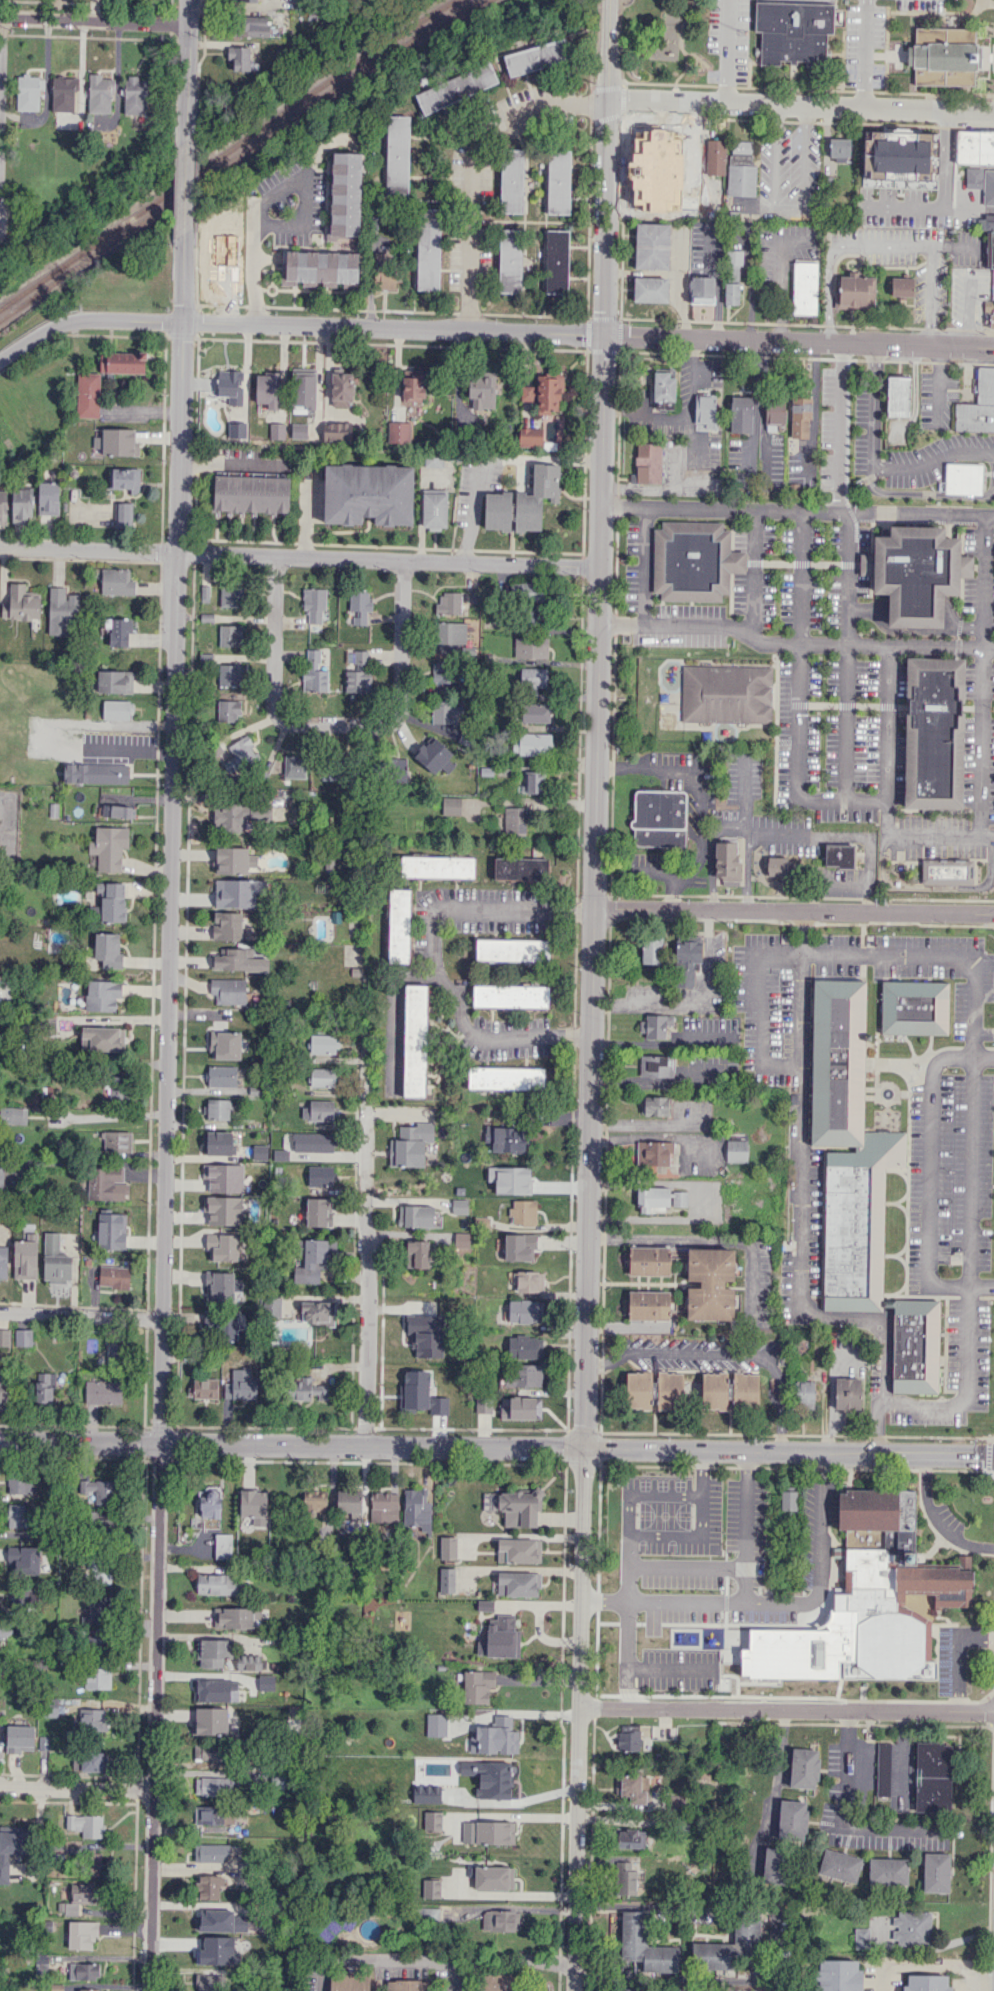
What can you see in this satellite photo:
building: (245, 0)
parking lot: (801, 1)
road: (990, 2)
parking lot: (927, 5)
road: (96, 25)
building: (250, 26)
building: (794, 31)
building: (669, 37)
road: (680, 41)
parking lot: (728, 41)
park: (663, 43)
parking lot: (864, 43)
road: (727, 51)
road: (865, 53)
building: (944, 55)
road: (981, 56)
road: (984, 56)
road: (993, 56)
building: (239, 57)
building: (537, 57)
road: (621, 66)
road: (190, 69)
building: (456, 88)
road: (833, 89)
building: (28, 92)
building: (63, 93)
building: (99, 94)
building: (135, 95)
road: (801, 105)
road: (2, 108)
building: (678, 144)
building: (975, 146)
building: (840, 148)
railway: (225, 149)
railway: (235, 154)
building: (716, 156)
building: (397, 157)
building: (900, 158)
road: (914, 158)
road: (472, 159)
building: (646, 159)
road: (949, 159)
building: (741, 168)
parking lot: (789, 174)
road: (879, 174)
parking lot: (907, 174)
building: (559, 175)
building: (974, 177)
building: (511, 180)
building: (988, 186)
road: (271, 189)
road: (185, 190)
building: (345, 195)
road: (793, 205)
road: (930, 207)
building: (711, 208)
road: (971, 208)
building: (986, 222)
road: (882, 242)
building: (652, 245)
building: (428, 248)
building: (990, 249)
building: (510, 259)
parking lot: (782, 259)
parking lot: (901, 259)
building: (556, 261)
building: (318, 268)
building: (383, 272)
road: (780, 274)
road: (717, 281)
building: (732, 283)
building: (993, 284)
building: (804, 286)
building: (902, 286)
building: (650, 289)
building: (702, 289)
building: (855, 291)
parking lot: (970, 295)
road: (134, 320)
building: (992, 321)
road: (39, 330)
road: (588, 335)
road: (735, 354)
building: (122, 362)
building: (413, 385)
building: (985, 385)
building: (230, 386)
building: (664, 386)
building: (268, 389)
building: (341, 389)
building: (304, 390)
building: (481, 390)
building: (526, 392)
building: (548, 393)
building: (87, 394)
building: (898, 396)
parking lot: (937, 399)
building: (663, 404)
road: (816, 409)
building: (836, 409)
building: (705, 412)
building: (774, 412)
building: (740, 414)
building: (800, 416)
building: (974, 417)
parking lot: (867, 421)
building: (237, 430)
building: (276, 430)
building: (299, 430)
building: (337, 431)
road: (836, 431)
building: (398, 432)
building: (530, 437)
building: (116, 442)
building: (433, 461)
road: (490, 462)
building: (648, 463)
road: (873, 466)
building: (963, 478)
building: (124, 479)
building: (252, 493)
building: (368, 494)
road: (941, 494)
building: (537, 496)
building: (48, 498)
building: (22, 505)
road: (617, 506)
building: (3, 507)
road: (797, 509)
building: (434, 510)
building: (498, 510)
building: (123, 514)
road: (299, 557)
building: (694, 560)
road: (644, 564)
road: (751, 571)
building: (918, 571)
road: (799, 576)
road: (848, 577)
parking lot: (979, 578)
building: (116, 582)
building: (527, 591)
building: (230, 598)
building: (21, 603)
building: (449, 603)
building: (314, 604)
building: (360, 606)
building: (61, 610)
building: (532, 616)
building: (118, 631)
building: (230, 635)
building: (449, 635)
road: (793, 641)
building: (531, 647)
building: (441, 671)
building: (314, 672)
building: (359, 673)
building: (230, 674)
building: (533, 679)
building: (114, 681)
building: (727, 693)
building: (118, 709)
building: (228, 710)
building: (445, 711)
building: (535, 712)
road: (845, 721)
road: (334, 723)
road: (595, 724)
building: (934, 733)
road: (45, 734)
road: (886, 741)
road: (982, 743)
building: (532, 744)
parking lot: (874, 746)
building: (240, 756)
building: (434, 756)
road: (796, 761)
building: (294, 766)
building: (397, 769)
building: (97, 771)
building: (531, 782)
road: (702, 801)
building: (451, 805)
building: (117, 810)
building: (230, 816)
building: (659, 818)
building: (515, 820)
road: (729, 831)
road: (844, 836)
road: (938, 839)
building: (109, 847)
parking lot: (931, 848)
building: (839, 856)
building: (234, 860)
building: (726, 860)
building: (778, 866)
building: (437, 867)
building: (521, 868)
building: (947, 870)
road: (828, 884)
road: (936, 886)
building: (238, 892)
road: (615, 893)
building: (66, 895)
building: (112, 901)
road: (792, 911)
building: (227, 925)
building: (400, 925)
building: (108, 948)
building: (513, 949)
building: (651, 949)
road: (432, 956)
road: (826, 957)
building: (239, 961)
building: (686, 961)
building: (228, 990)
building: (102, 995)
building: (510, 996)
road: (692, 1002)
building: (915, 1006)
building: (655, 1025)
building: (102, 1039)
building: (415, 1040)
building: (646, 1042)
building: (323, 1044)
building: (225, 1045)
building: (656, 1065)
building: (221, 1075)
building: (321, 1077)
building: (507, 1078)
building: (654, 1106)
building: (217, 1109)
building: (318, 1110)
building: (13, 1115)
road: (164, 1115)
road: (108, 1116)
building: (505, 1139)
building: (115, 1141)
building: (217, 1143)
building: (410, 1144)
building: (313, 1146)
building: (736, 1148)
building: (260, 1152)
building: (653, 1152)
building: (320, 1175)
building: (224, 1177)
building: (525, 1179)
road: (926, 1179)
building: (106, 1183)
building: (860, 1184)
building: (653, 1198)
building: (679, 1198)
building: (459, 1206)
building: (223, 1210)
building: (319, 1212)
building: (523, 1212)
building: (416, 1216)
building: (111, 1231)
road: (708, 1237)
building: (456, 1239)
building: (222, 1247)
building: (520, 1247)
building: (417, 1253)
road: (365, 1254)
building: (25, 1257)
building: (55, 1260)
building: (311, 1260)
building: (649, 1260)
building: (3, 1267)
building: (114, 1276)
building: (530, 1281)
building: (710, 1283)
building: (221, 1286)
building: (649, 1304)
building: (276, 1307)
building: (523, 1311)
building: (317, 1313)
road: (80, 1314)
building: (229, 1328)
building: (426, 1334)
building: (4, 1337)
building: (23, 1337)
building: (525, 1346)
road: (697, 1354)
building: (522, 1375)
building: (240, 1385)
building: (3, 1388)
building: (45, 1388)
building: (203, 1388)
building: (415, 1389)
building: (638, 1389)
building: (745, 1389)
building: (307, 1390)
building: (670, 1390)
building: (714, 1390)
building: (103, 1392)
building: (847, 1393)
building: (804, 1394)
building: (483, 1405)
building: (520, 1408)
road: (778, 1427)
road: (497, 1448)
building: (20, 1482)
building: (96, 1491)
building: (789, 1499)
building: (312, 1500)
building: (348, 1500)
building: (211, 1503)
building: (253, 1503)
building: (384, 1507)
building: (519, 1507)
building: (417, 1509)
building: (16, 1514)
parking lot: (671, 1514)
road: (935, 1519)
road: (824, 1523)
road: (748, 1527)
road: (652, 1534)
building: (223, 1545)
building: (448, 1547)
road: (631, 1549)
building: (519, 1550)
building: (23, 1560)
road: (670, 1565)
building: (102, 1570)
building: (447, 1579)
building: (936, 1582)
building: (216, 1583)
building: (518, 1583)
building: (880, 1588)
parking lot: (779, 1592)
road: (664, 1602)
road: (788, 1606)
building: (98, 1611)
building: (233, 1617)
building: (4, 1628)
building: (500, 1638)
building: (95, 1644)
building: (214, 1652)
road: (959, 1657)
parking lot: (951, 1660)
building: (249, 1662)
road: (652, 1668)
parking lot: (668, 1668)
building: (97, 1678)
building: (265, 1682)
building: (477, 1685)
building: (214, 1688)
road: (786, 1709)
road: (522, 1717)
building: (92, 1719)
road: (578, 1720)
building: (210, 1721)
building: (436, 1724)
building: (495, 1737)
building: (20, 1738)
building: (629, 1738)
building: (209, 1751)
building: (88, 1761)
road: (778, 1765)
building: (805, 1768)
building: (883, 1770)
building: (933, 1777)
building: (277, 1781)
building: (212, 1785)
building: (632, 1787)
road: (76, 1788)
building: (212, 1814)
building: (792, 1818)
building: (432, 1820)
building: (85, 1824)
road: (874, 1824)
building: (488, 1832)
building: (630, 1838)
building: (10, 1850)
building: (210, 1852)
building: (93, 1863)
building: (774, 1865)
building: (840, 1865)
building: (888, 1871)
building: (937, 1872)
building: (493, 1877)
building: (624, 1878)
building: (209, 1887)
building: (431, 1888)
building: (83, 1892)
building: (430, 1914)
building: (221, 1920)
building: (500, 1920)
building: (911, 1927)
building: (82, 1935)
building: (861, 1938)
road: (773, 1943)
building: (645, 1945)
building: (729, 1947)
road: (430, 1961)
road: (918, 1965)
building: (84, 1970)
road: (380, 1975)
building: (837, 1975)
road: (449, 1976)
road: (974, 1976)
building: (349, 1980)
building: (210, 1982)
building: (501, 1982)
building: (927, 1982)
building: (407, 1985)
building: (88, 1989)

